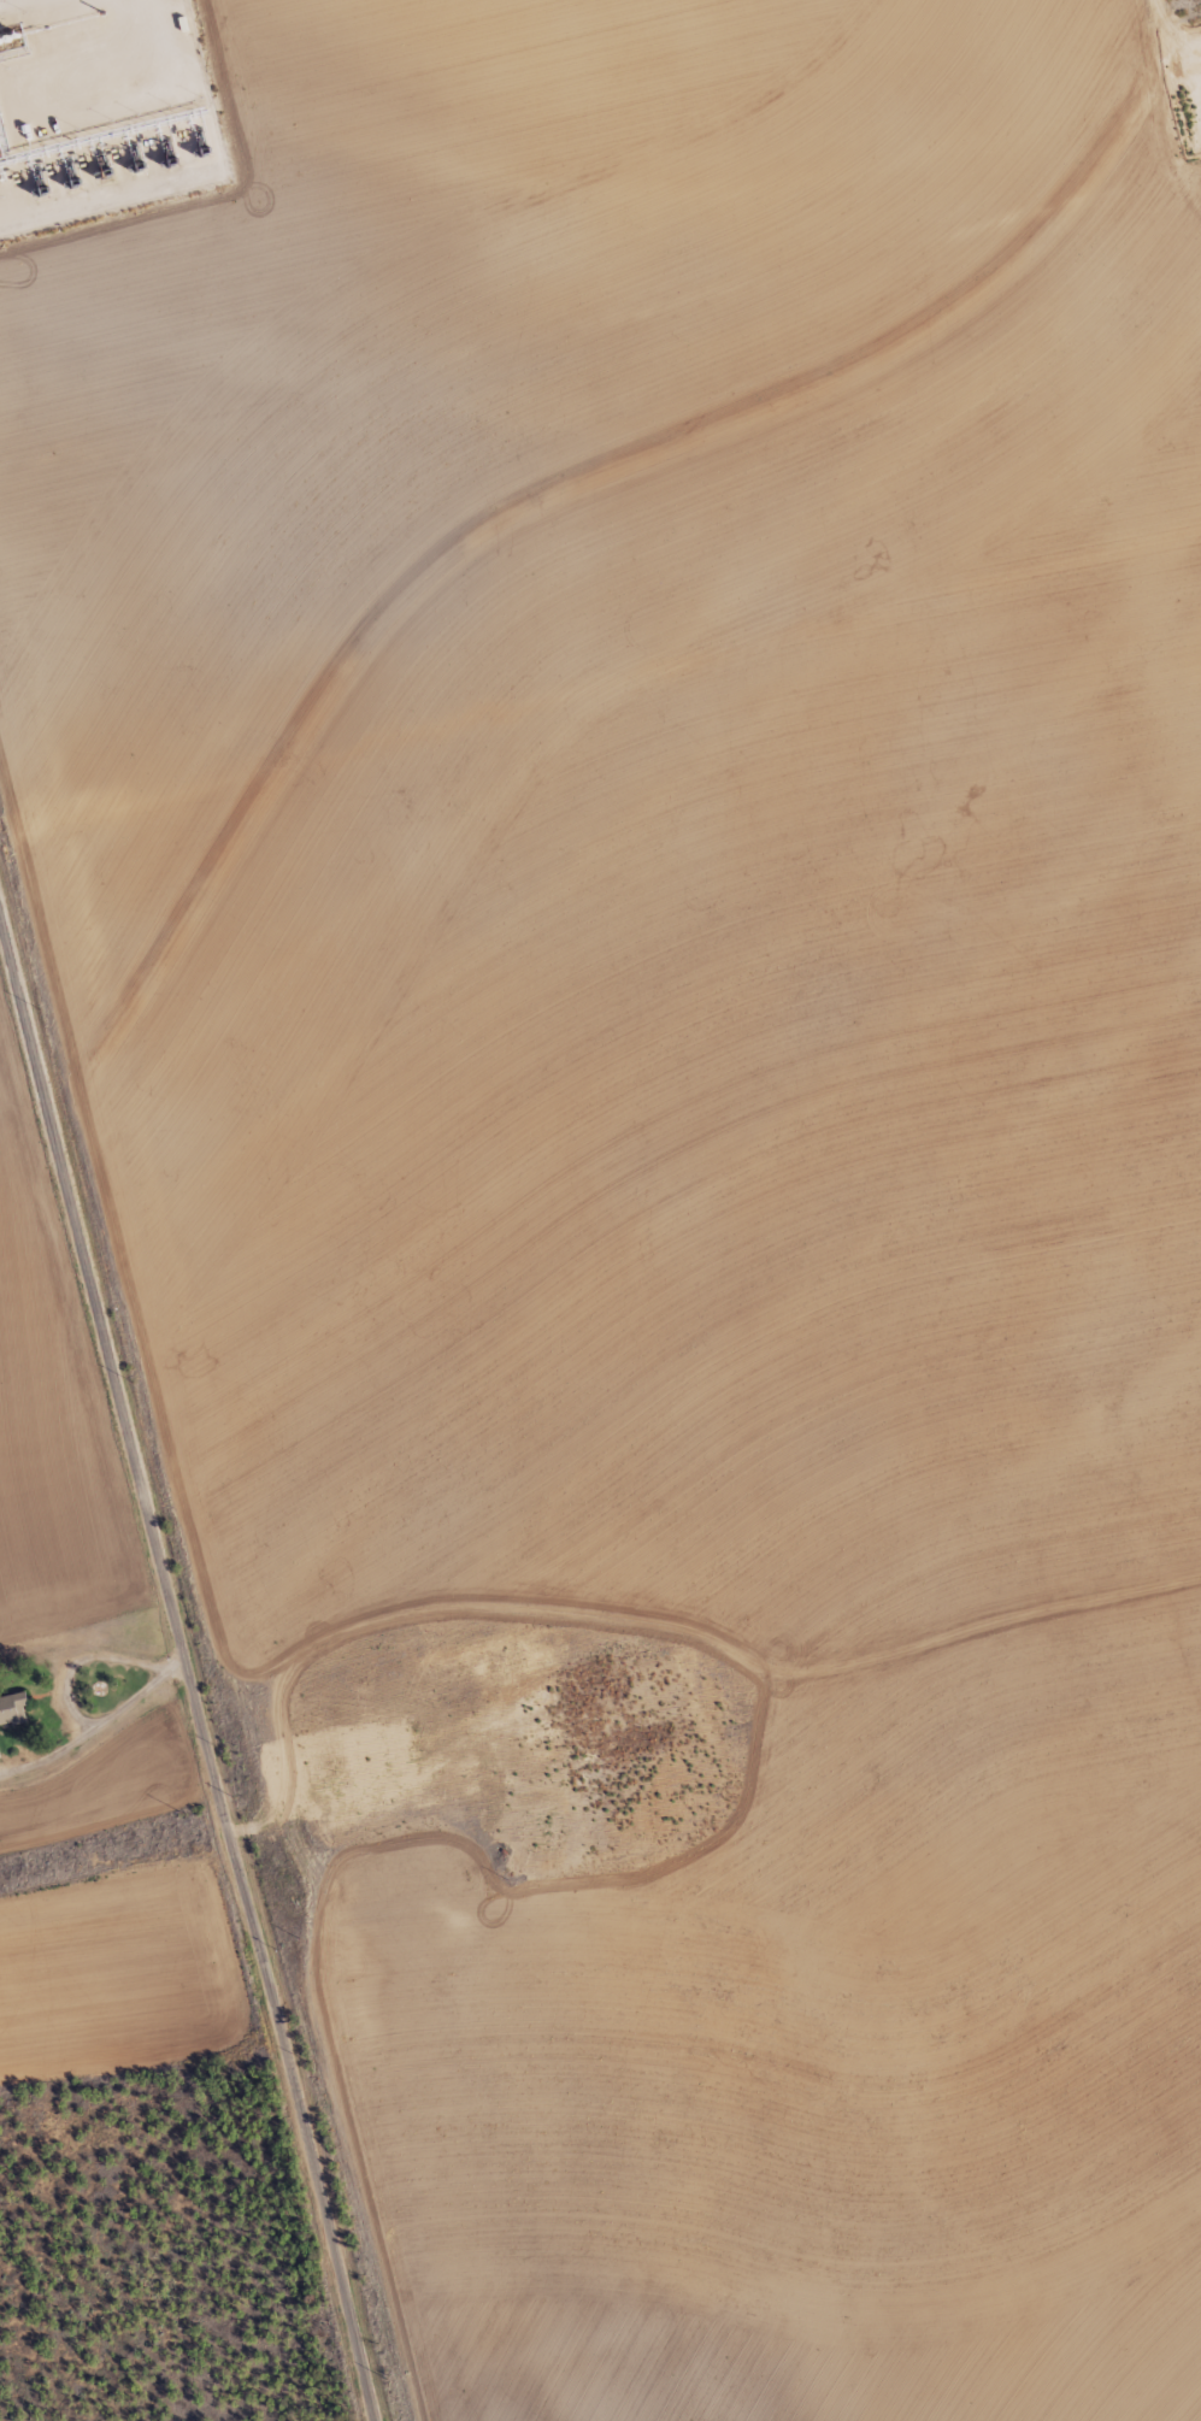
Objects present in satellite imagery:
road: (113, 1378)
building: (12, 1708)
building: (372, 1750)
road: (299, 2131)

